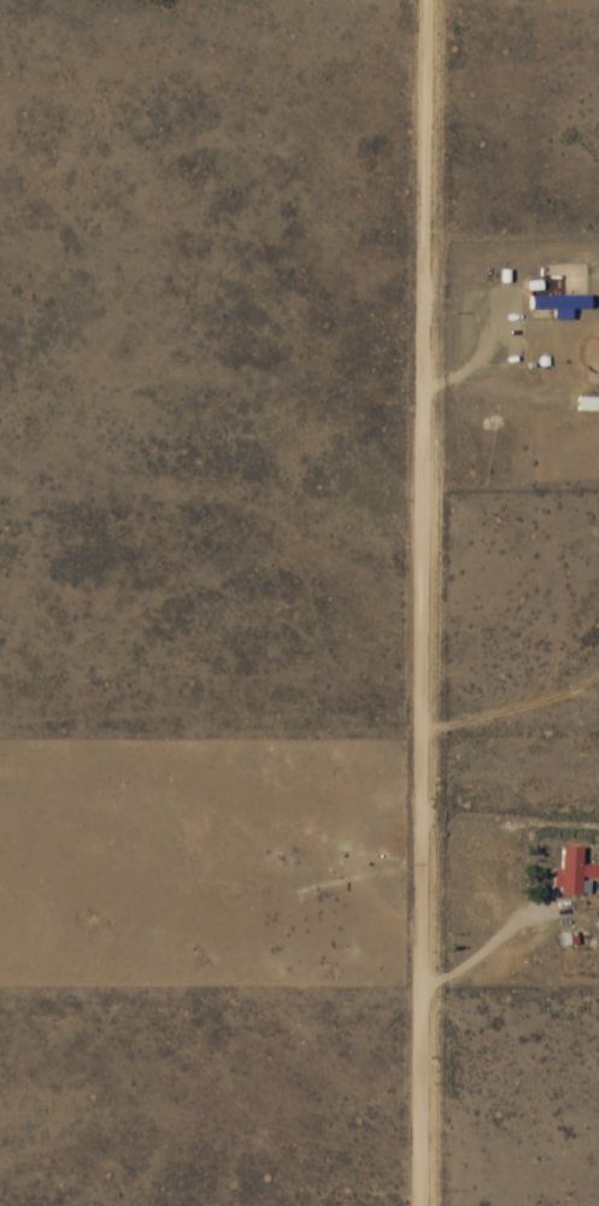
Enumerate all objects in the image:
building: (554, 303)
building: (582, 405)
road: (421, 603)
building: (570, 872)

